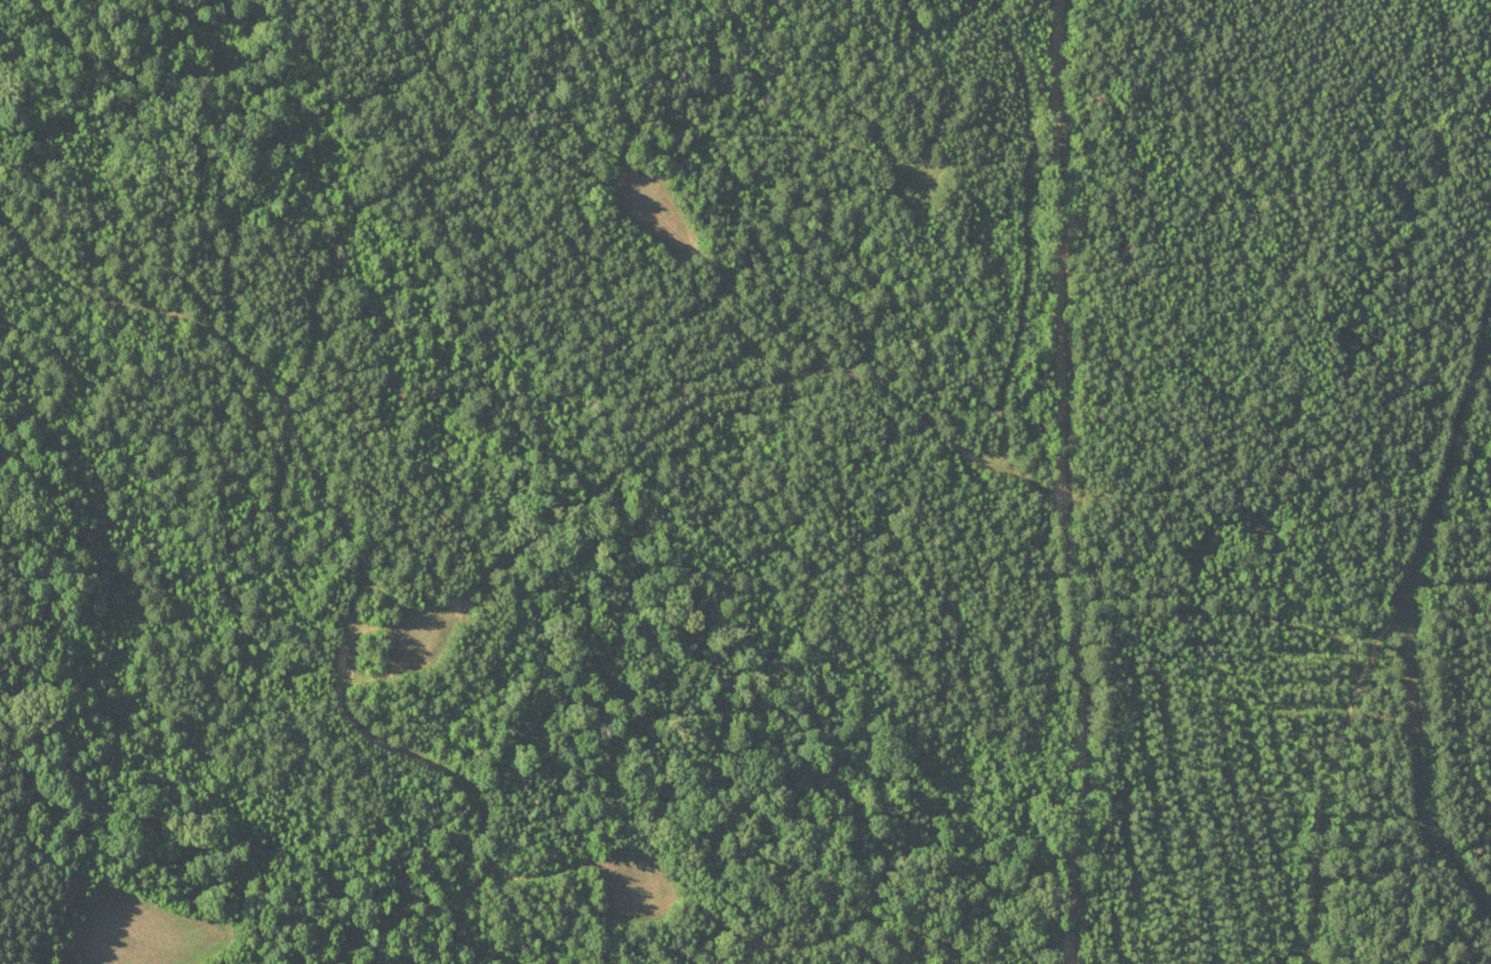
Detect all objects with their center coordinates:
road: (1049, 483)

